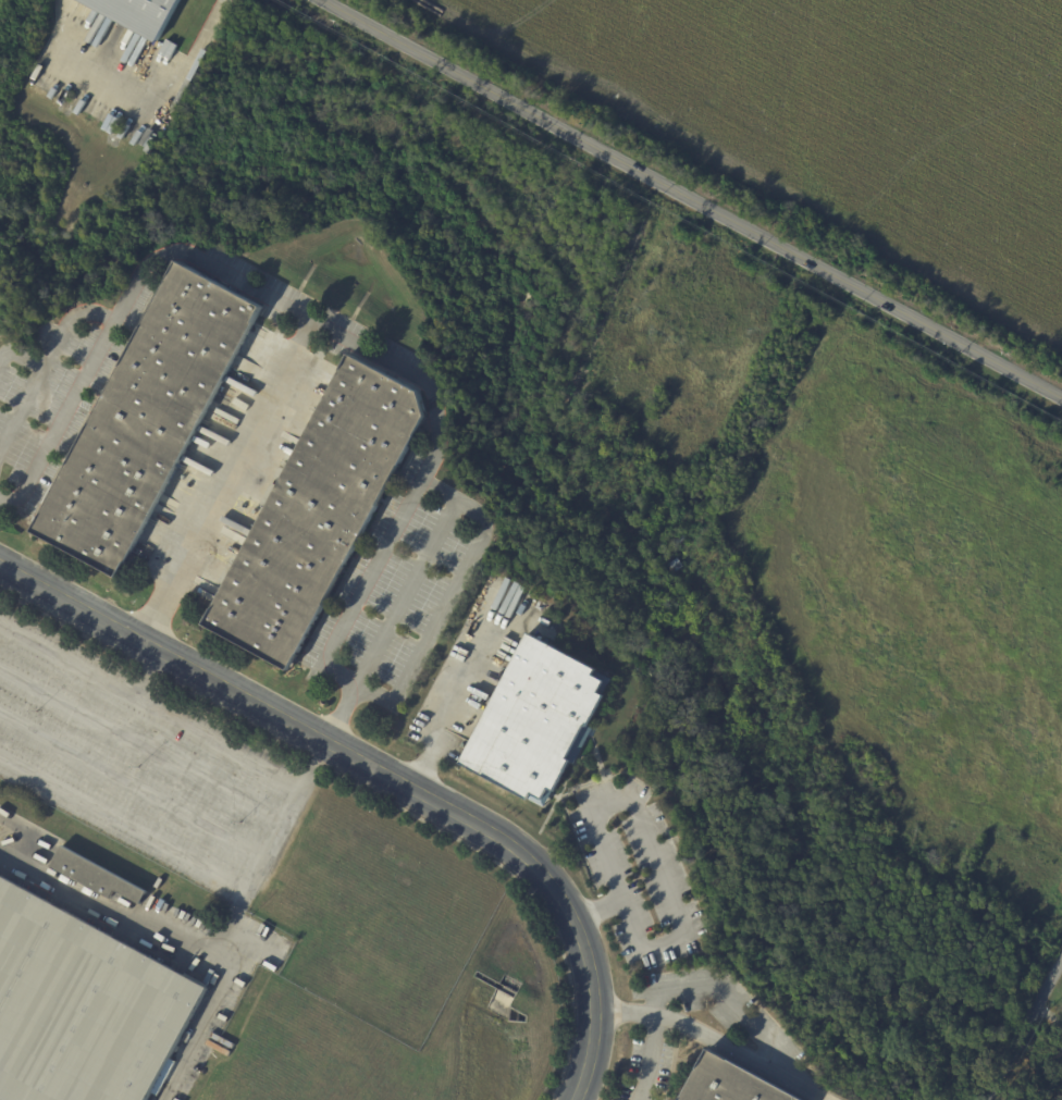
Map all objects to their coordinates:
building: (137, 14)
road: (206, 28)
road: (109, 76)
crop: (856, 114)
road: (696, 197)
road: (353, 338)
road: (61, 418)
building: (149, 418)
road: (225, 480)
building: (320, 511)
building: (676, 565)
parking lot: (399, 589)
road: (449, 596)
road: (65, 659)
road: (437, 693)
building: (538, 721)
road: (196, 729)
parking lot: (133, 756)
road: (381, 778)
road: (123, 823)
road: (647, 826)
parking lot: (635, 872)
building: (95, 876)
road: (211, 954)
road: (728, 998)
building: (83, 1006)
road: (1035, 1009)
road: (713, 1039)
road: (647, 1056)
parking lot: (658, 1060)
building: (1055, 1062)
parking lot: (640, 1075)
road: (996, 1079)
building: (729, 1084)

